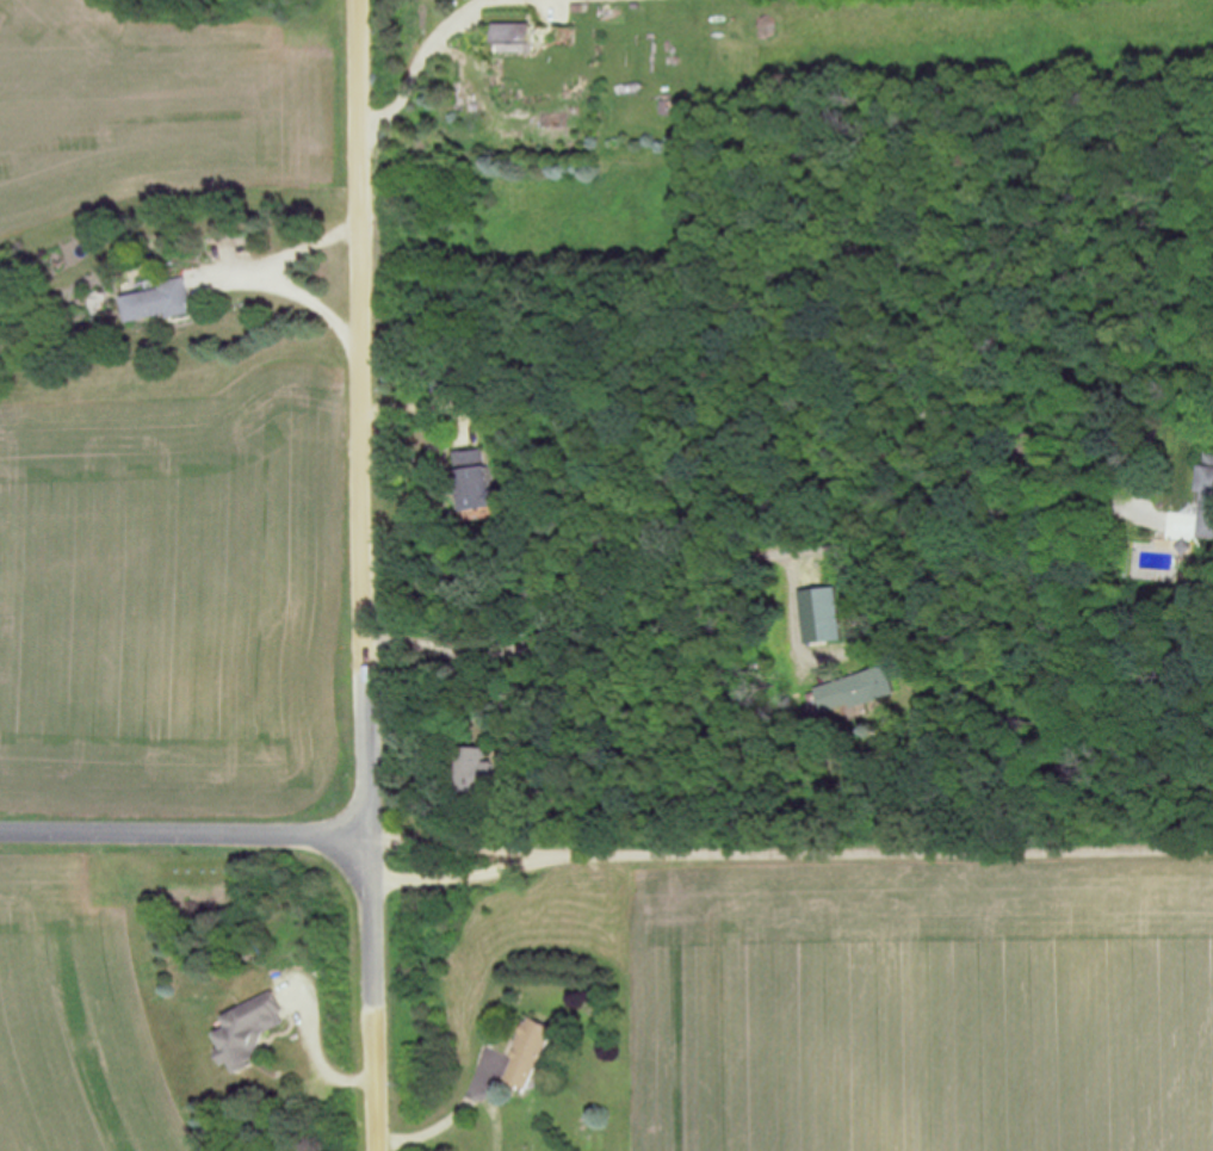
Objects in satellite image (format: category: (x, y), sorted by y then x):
building: (514, 36)
road: (435, 38)
road: (283, 278)
building: (163, 302)
road: (366, 416)
building: (481, 488)
building: (1207, 495)
road: (750, 557)
building: (859, 689)
building: (472, 767)
road: (186, 833)
road: (792, 852)
road: (379, 992)
building: (255, 1031)
building: (530, 1053)
road: (457, 1113)

